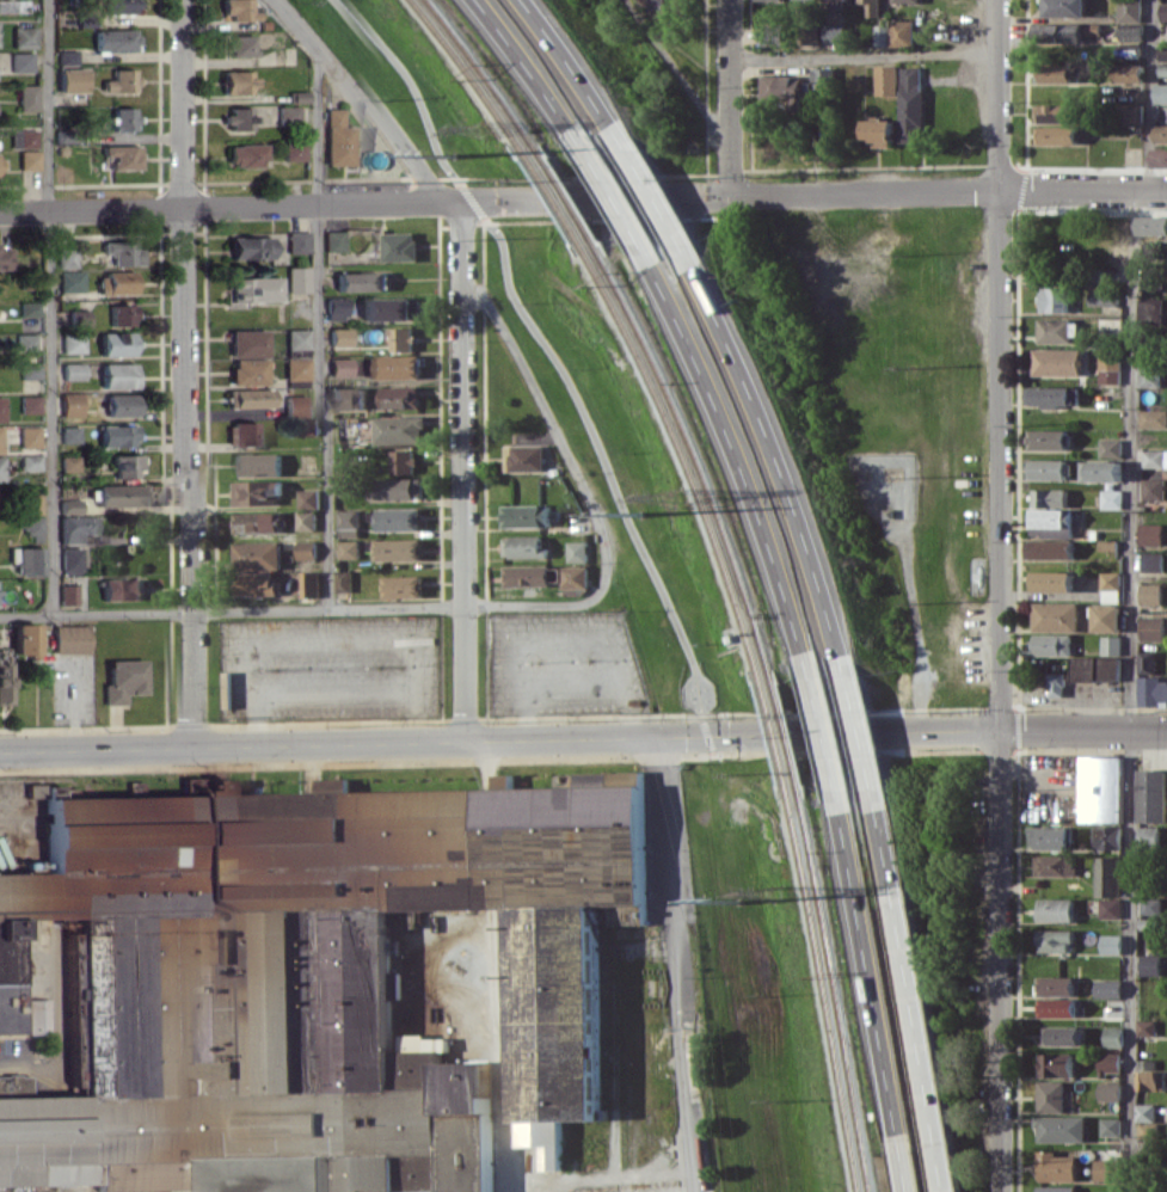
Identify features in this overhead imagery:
building: (902, 1)
building: (125, 5)
building: (16, 6)
building: (641, 6)
building: (868, 7)
building: (1061, 7)
building: (245, 8)
building: (664, 8)
building: (1126, 11)
building: (1162, 11)
building: (0, 30)
building: (830, 32)
building: (898, 32)
building: (1056, 32)
building: (1126, 32)
building: (809, 33)
building: (768, 35)
building: (878, 36)
building: (27, 37)
building: (119, 39)
building: (248, 45)
building: (72, 56)
road: (864, 56)
building: (26, 61)
building: (1161, 62)
railway: (483, 69)
road: (576, 70)
railway: (467, 72)
road: (533, 73)
building: (1051, 73)
building: (1126, 73)
road: (672, 76)
building: (819, 78)
building: (76, 80)
building: (125, 80)
building: (882, 80)
building: (246, 81)
road: (406, 84)
building: (778, 88)
building: (1160, 93)
road: (1148, 96)
building: (31, 97)
building: (306, 97)
road: (360, 98)
road: (726, 98)
building: (907, 104)
building: (1128, 112)
building: (1165, 112)
building: (295, 115)
building: (247, 117)
building: (128, 118)
power tower: (487, 130)
building: (876, 131)
building: (1160, 133)
building: (1054, 134)
building: (27, 137)
building: (346, 140)
building: (301, 152)
building: (127, 155)
building: (253, 155)
power tower: (449, 156)
building: (1159, 156)
building: (33, 159)
building: (1, 166)
road: (492, 179)
road: (226, 183)
road: (1083, 191)
railway: (549, 195)
railway: (565, 195)
road: (466, 197)
road: (500, 201)
road: (658, 204)
road: (619, 205)
building: (1151, 225)
building: (340, 241)
building: (305, 242)
building: (399, 246)
building: (127, 248)
building: (257, 248)
building: (6, 257)
building: (72, 257)
building: (75, 279)
building: (305, 279)
building: (363, 282)
building: (127, 283)
building: (263, 289)
building: (1100, 296)
building: (1050, 300)
road: (209, 306)
road: (54, 307)
building: (343, 309)
building: (393, 311)
building: (32, 314)
building: (125, 314)
building: (84, 319)
road: (324, 328)
building: (1054, 330)
building: (348, 337)
building: (305, 338)
building: (400, 340)
building: (29, 342)
building: (78, 342)
building: (254, 343)
building: (122, 345)
building: (1054, 362)
building: (398, 365)
building: (1106, 365)
building: (346, 367)
building: (303, 369)
building: (33, 370)
building: (78, 371)
building: (256, 371)
road: (166, 374)
road: (191, 374)
building: (1145, 374)
building: (124, 375)
building: (1048, 395)
building: (398, 398)
building: (257, 399)
building: (350, 399)
building: (33, 404)
building: (125, 405)
building: (303, 405)
building: (78, 406)
road: (436, 407)
building: (2, 408)
road: (480, 412)
building: (1150, 418)
building: (306, 426)
building: (348, 430)
building: (397, 430)
building: (75, 434)
building: (251, 434)
building: (123, 435)
building: (32, 436)
building: (1, 438)
building: (1044, 440)
building: (1107, 448)
railway: (681, 451)
railway: (695, 451)
building: (526, 456)
building: (1153, 457)
road: (741, 460)
road: (780, 460)
building: (32, 462)
building: (403, 462)
building: (75, 465)
building: (258, 465)
building: (134, 466)
building: (1, 468)
building: (1045, 468)
road: (604, 471)
building: (1099, 471)
road: (462, 472)
building: (348, 487)
building: (1150, 489)
building: (394, 490)
building: (254, 492)
road: (582, 493)
building: (127, 494)
power tower: (674, 497)
building: (1046, 497)
building: (306, 498)
building: (1108, 498)
building: (74, 502)
building: (33, 503)
building: (886, 512)
power tower: (637, 515)
building: (1045, 517)
building: (346, 518)
building: (526, 518)
building: (398, 520)
building: (303, 522)
building: (256, 523)
building: (33, 526)
building: (80, 528)
building: (1037, 530)
building: (1147, 534)
building: (1045, 548)
building: (397, 549)
building: (524, 549)
building: (306, 551)
building: (346, 551)
building: (573, 552)
building: (257, 557)
building: (32, 559)
building: (75, 559)
building: (1149, 561)
building: (528, 579)
building: (339, 580)
building: (571, 580)
building: (1050, 582)
building: (1106, 582)
building: (308, 585)
building: (254, 586)
building: (401, 588)
building: (124, 589)
building: (73, 592)
road: (1005, 595)
road: (231, 613)
building: (1052, 616)
building: (1102, 617)
road: (911, 626)
building: (1149, 627)
building: (75, 639)
building: (30, 641)
building: (1049, 644)
building: (1107, 645)
building: (1143, 662)
building: (1092, 668)
building: (7, 671)
building: (128, 681)
building: (1052, 684)
road: (1128, 692)
building: (1150, 692)
road: (73, 706)
road: (1086, 732)
railway: (774, 735)
railway: (787, 735)
road: (854, 735)
road: (864, 735)
road: (828, 736)
road: (351, 744)
road: (707, 780)
building: (1098, 788)
building: (1149, 794)
building: (1065, 809)
building: (1144, 835)
building: (1046, 837)
building: (1102, 837)
road: (889, 852)
building: (1051, 864)
building: (1104, 875)
power tower: (779, 897)
power tower: (733, 902)
building: (1147, 905)
building: (1106, 908)
building: (1052, 909)
building: (1051, 940)
building: (1107, 944)
building: (1166, 950)
road: (721, 964)
building: (1147, 964)
road: (675, 965)
building: (318, 970)
road: (873, 973)
building: (1052, 985)
building: (1105, 988)
railway: (825, 995)
railway: (839, 996)
building: (1054, 1007)
building: (38, 1014)
building: (1143, 1027)
building: (1058, 1036)
building: (1110, 1037)
road: (922, 1045)
building: (1105, 1063)
building: (1051, 1064)
building: (1142, 1064)
building: (1147, 1080)
building: (1105, 1090)
building: (1048, 1096)
building: (1142, 1112)
building: (1107, 1126)
building: (1057, 1128)
road: (908, 1165)
building: (1052, 1166)
building: (1104, 1169)
road: (604, 1175)
building: (1052, 1188)
building: (137, 1190)
building: (1101, 1191)

